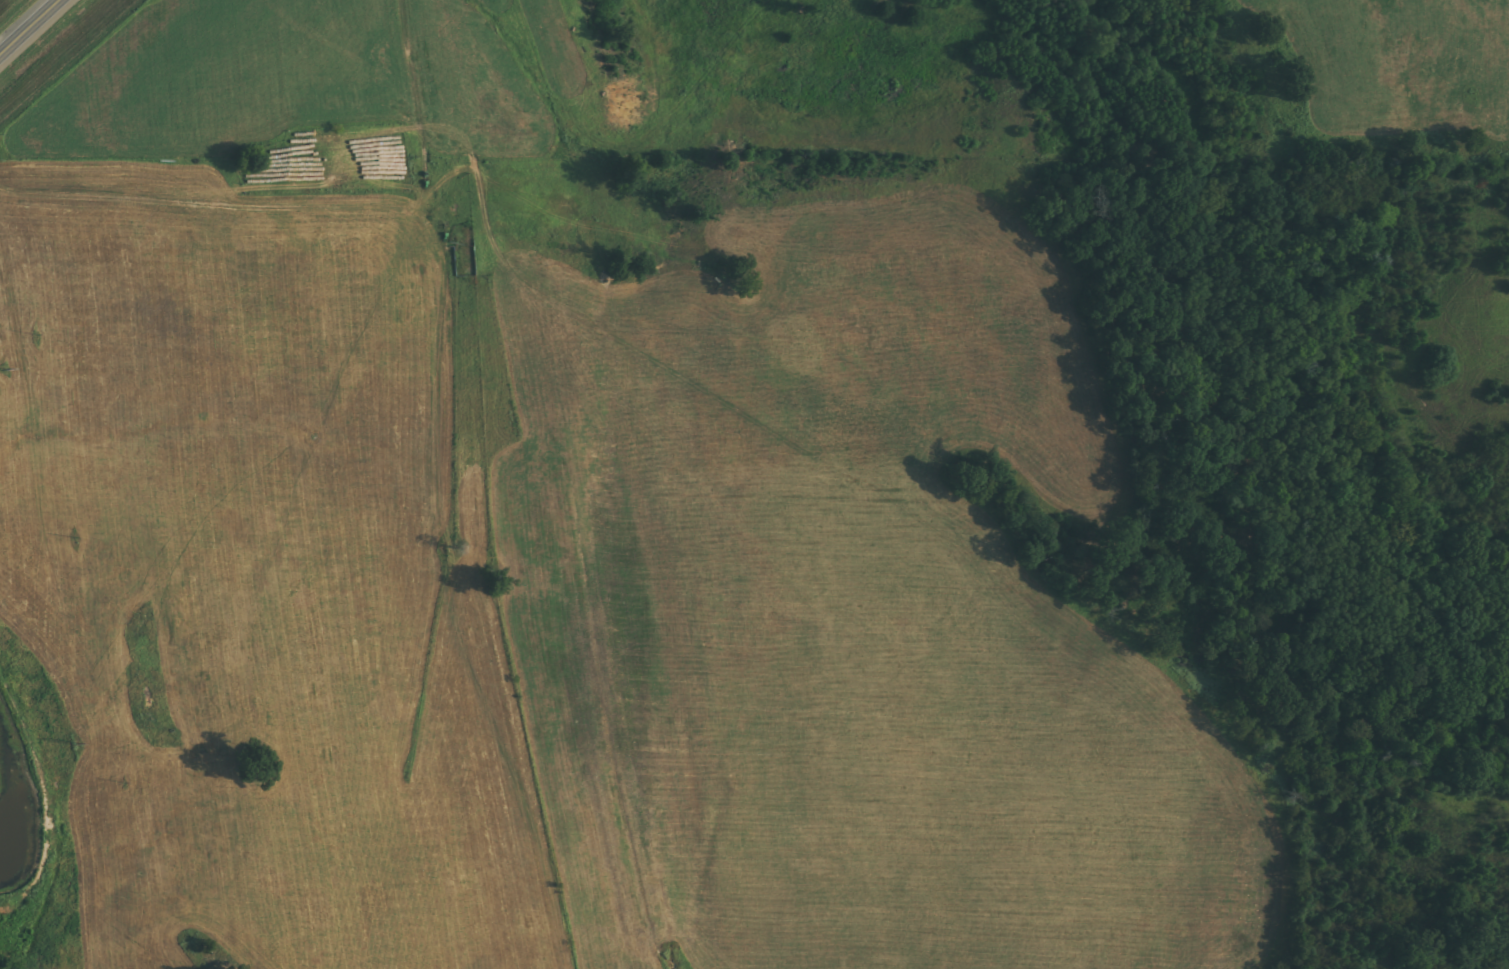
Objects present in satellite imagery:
road: (30, 28)
power tower: (1, 367)
power tower: (74, 743)

